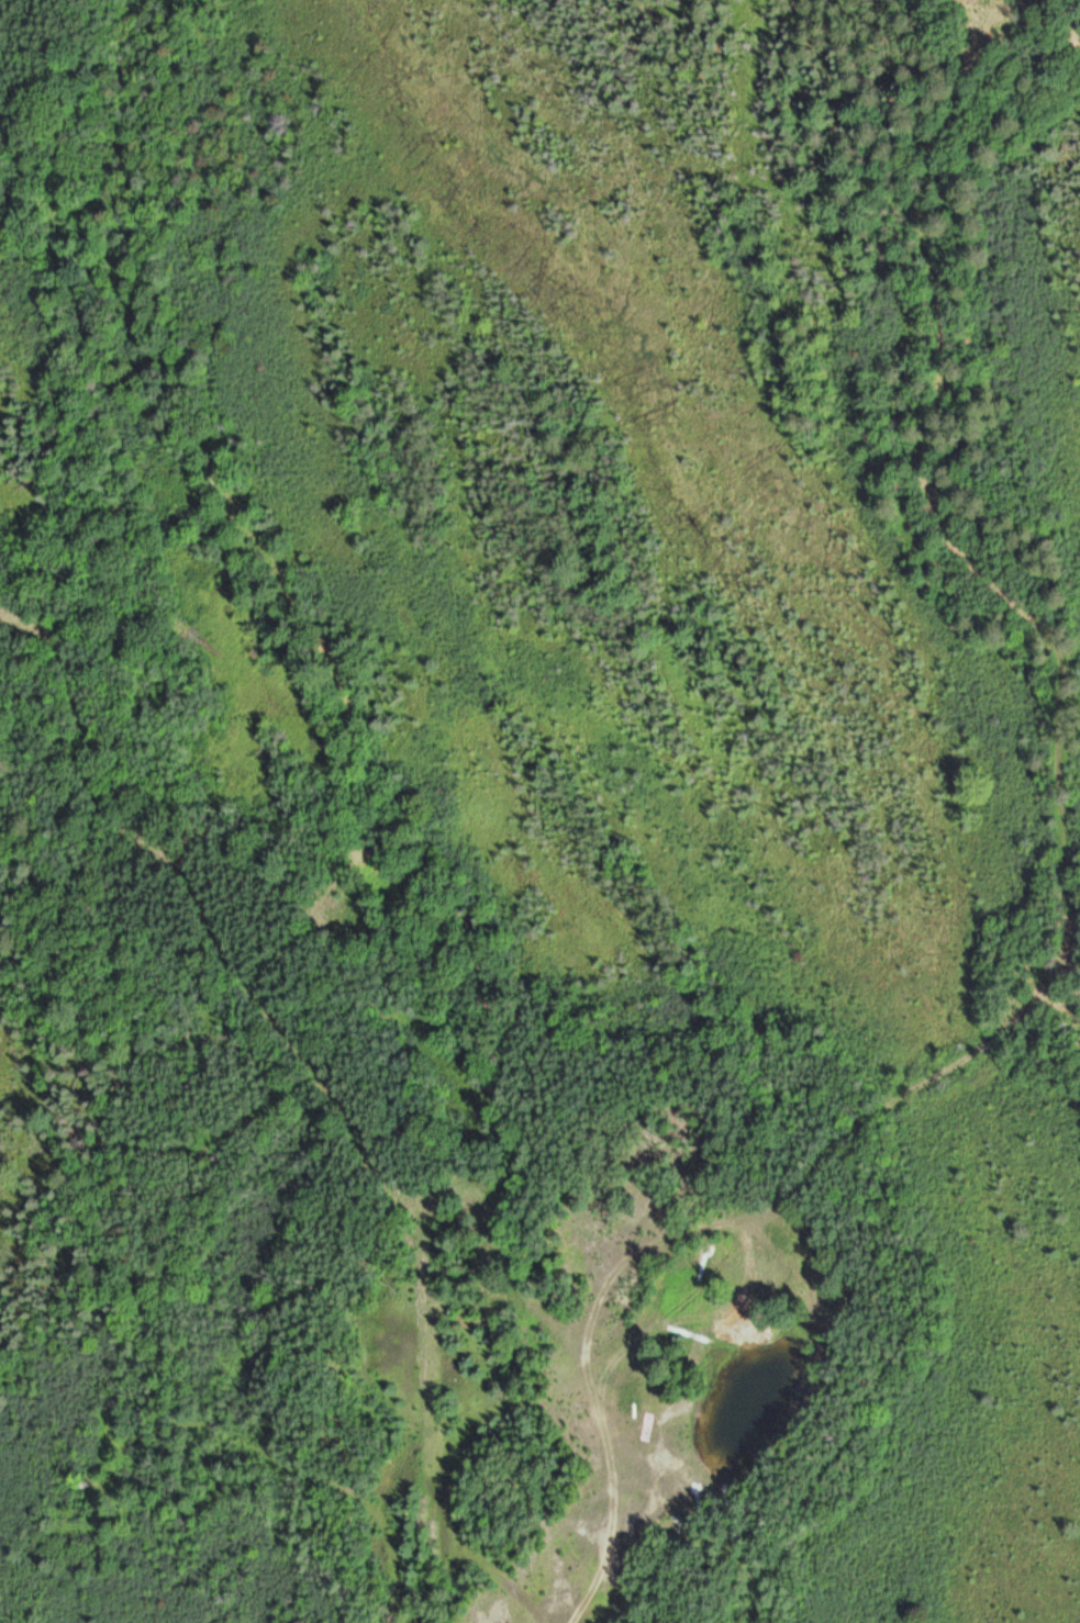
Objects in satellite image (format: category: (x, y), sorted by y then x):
road: (1068, 913)

